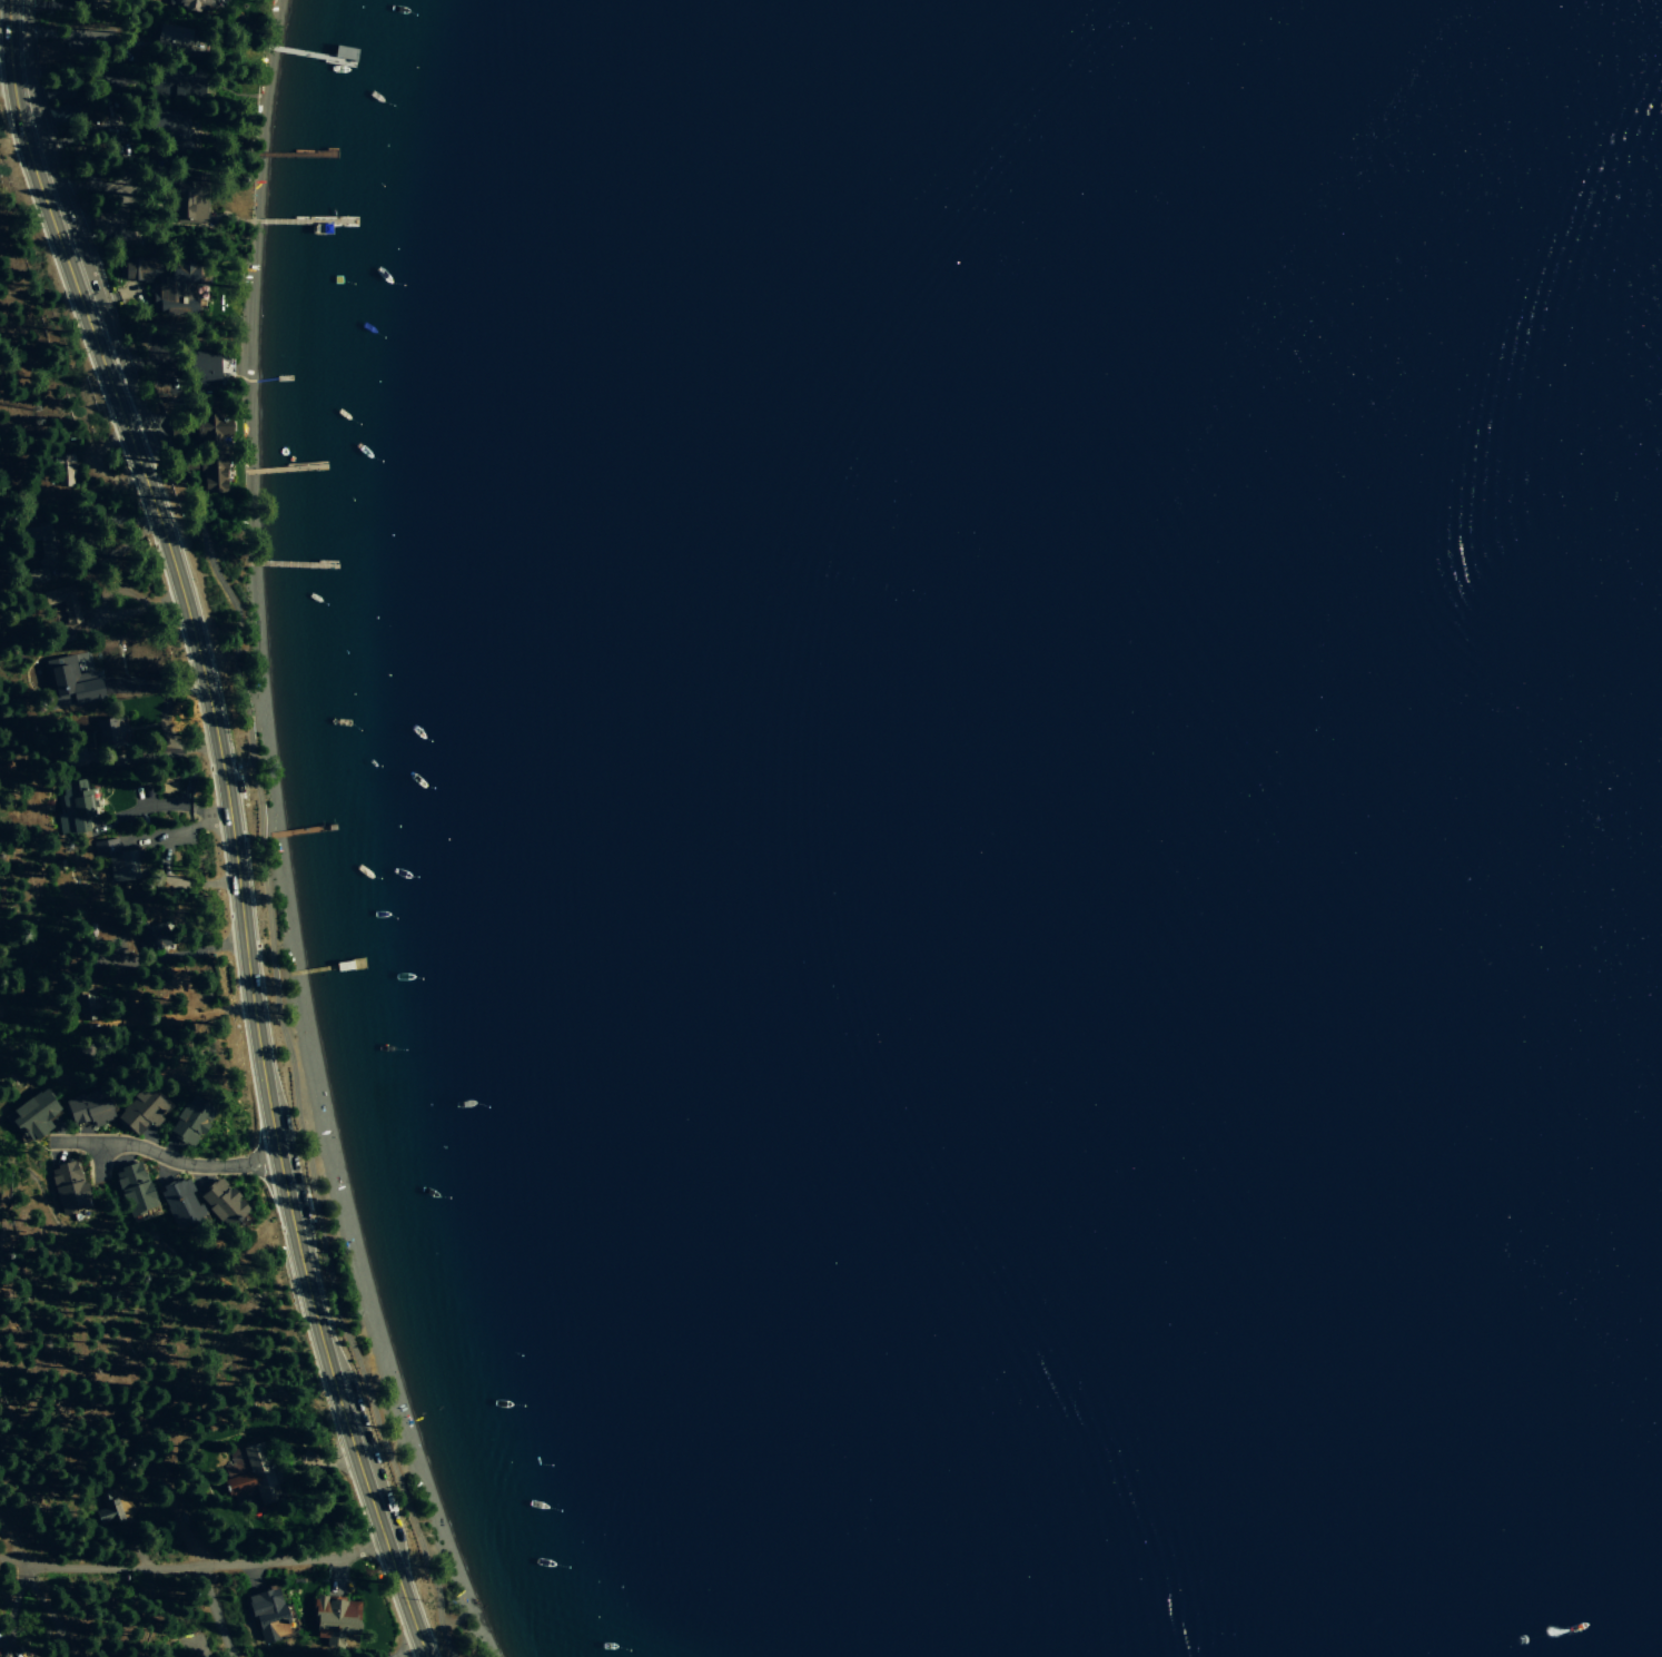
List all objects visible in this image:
building: (197, 3)
building: (172, 39)
pier: (290, 50)
building: (176, 82)
building: (58, 89)
building: (171, 128)
pier: (286, 149)
road: (14, 169)
building: (186, 197)
pier: (288, 218)
building: (167, 285)
building: (204, 367)
building: (209, 426)
pier: (278, 467)
building: (63, 471)
building: (212, 474)
building: (37, 541)
pier: (287, 564)
building: (40, 574)
building: (65, 603)
building: (71, 686)
building: (108, 730)
building: (75, 808)
road: (258, 822)
road: (233, 825)
pier: (308, 831)
building: (151, 934)
pier: (333, 968)
building: (86, 1005)
building: (88, 1107)
building: (141, 1108)
building: (33, 1115)
building: (190, 1120)
road: (162, 1156)
building: (69, 1186)
building: (133, 1187)
building: (180, 1201)
building: (221, 1201)
building: (250, 1471)
building: (108, 1507)
road: (12, 1549)
road: (206, 1566)
road: (216, 1611)
road: (48, 1612)
building: (336, 1620)
building: (3, 1656)

